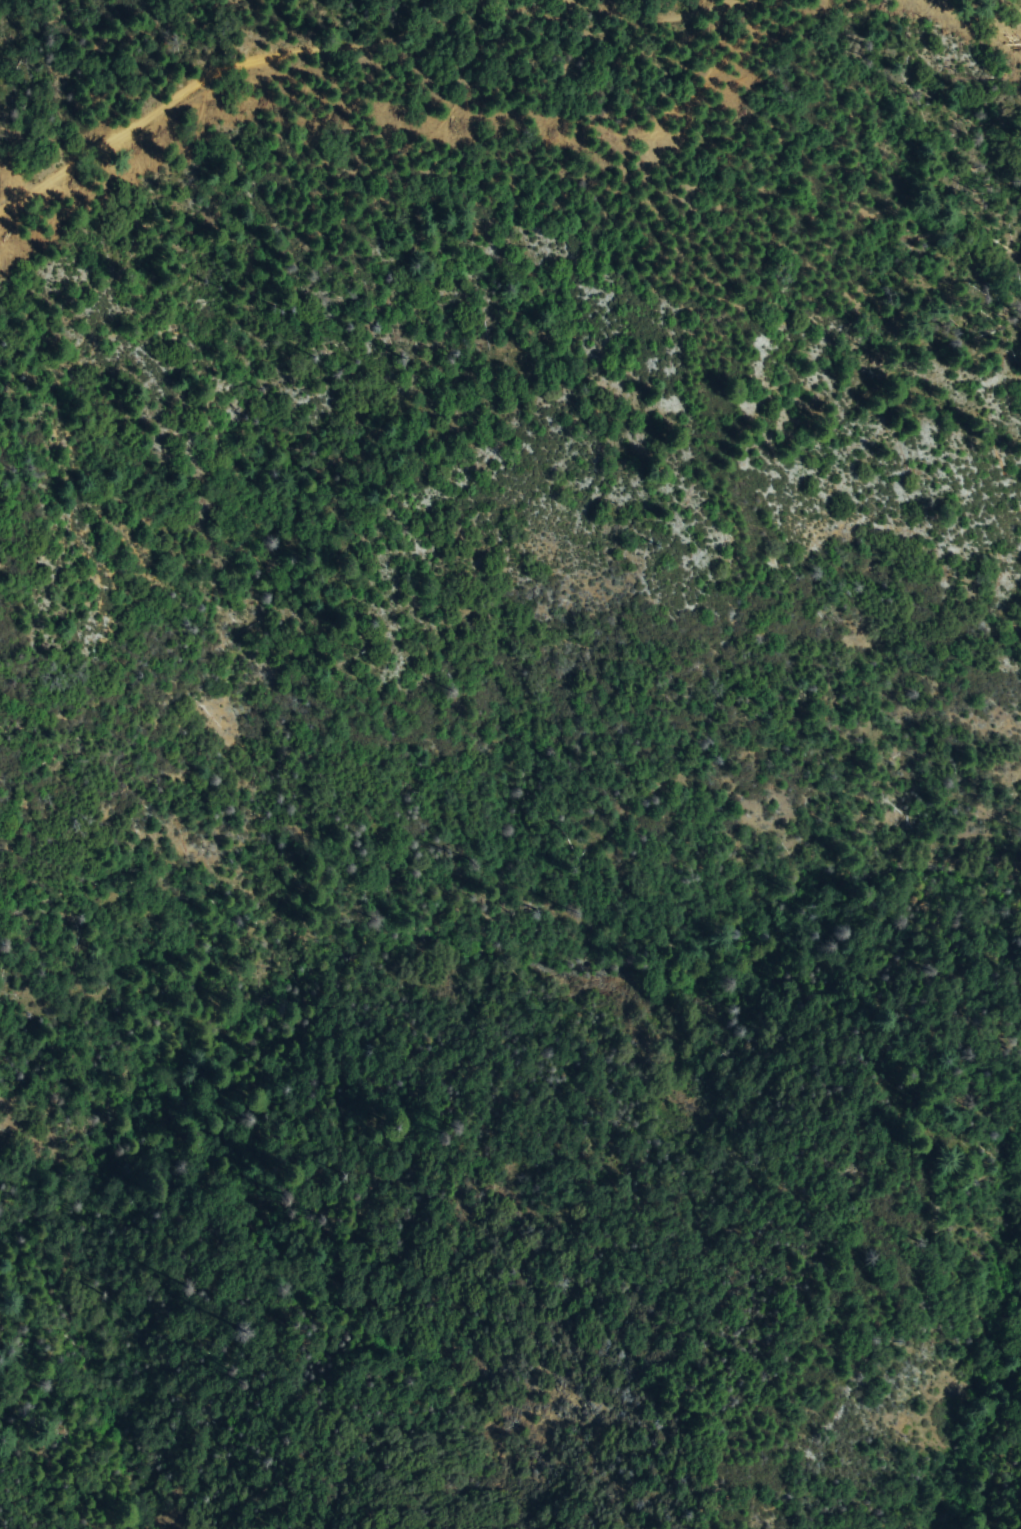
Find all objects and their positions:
road: (995, 11)
road: (358, 55)

